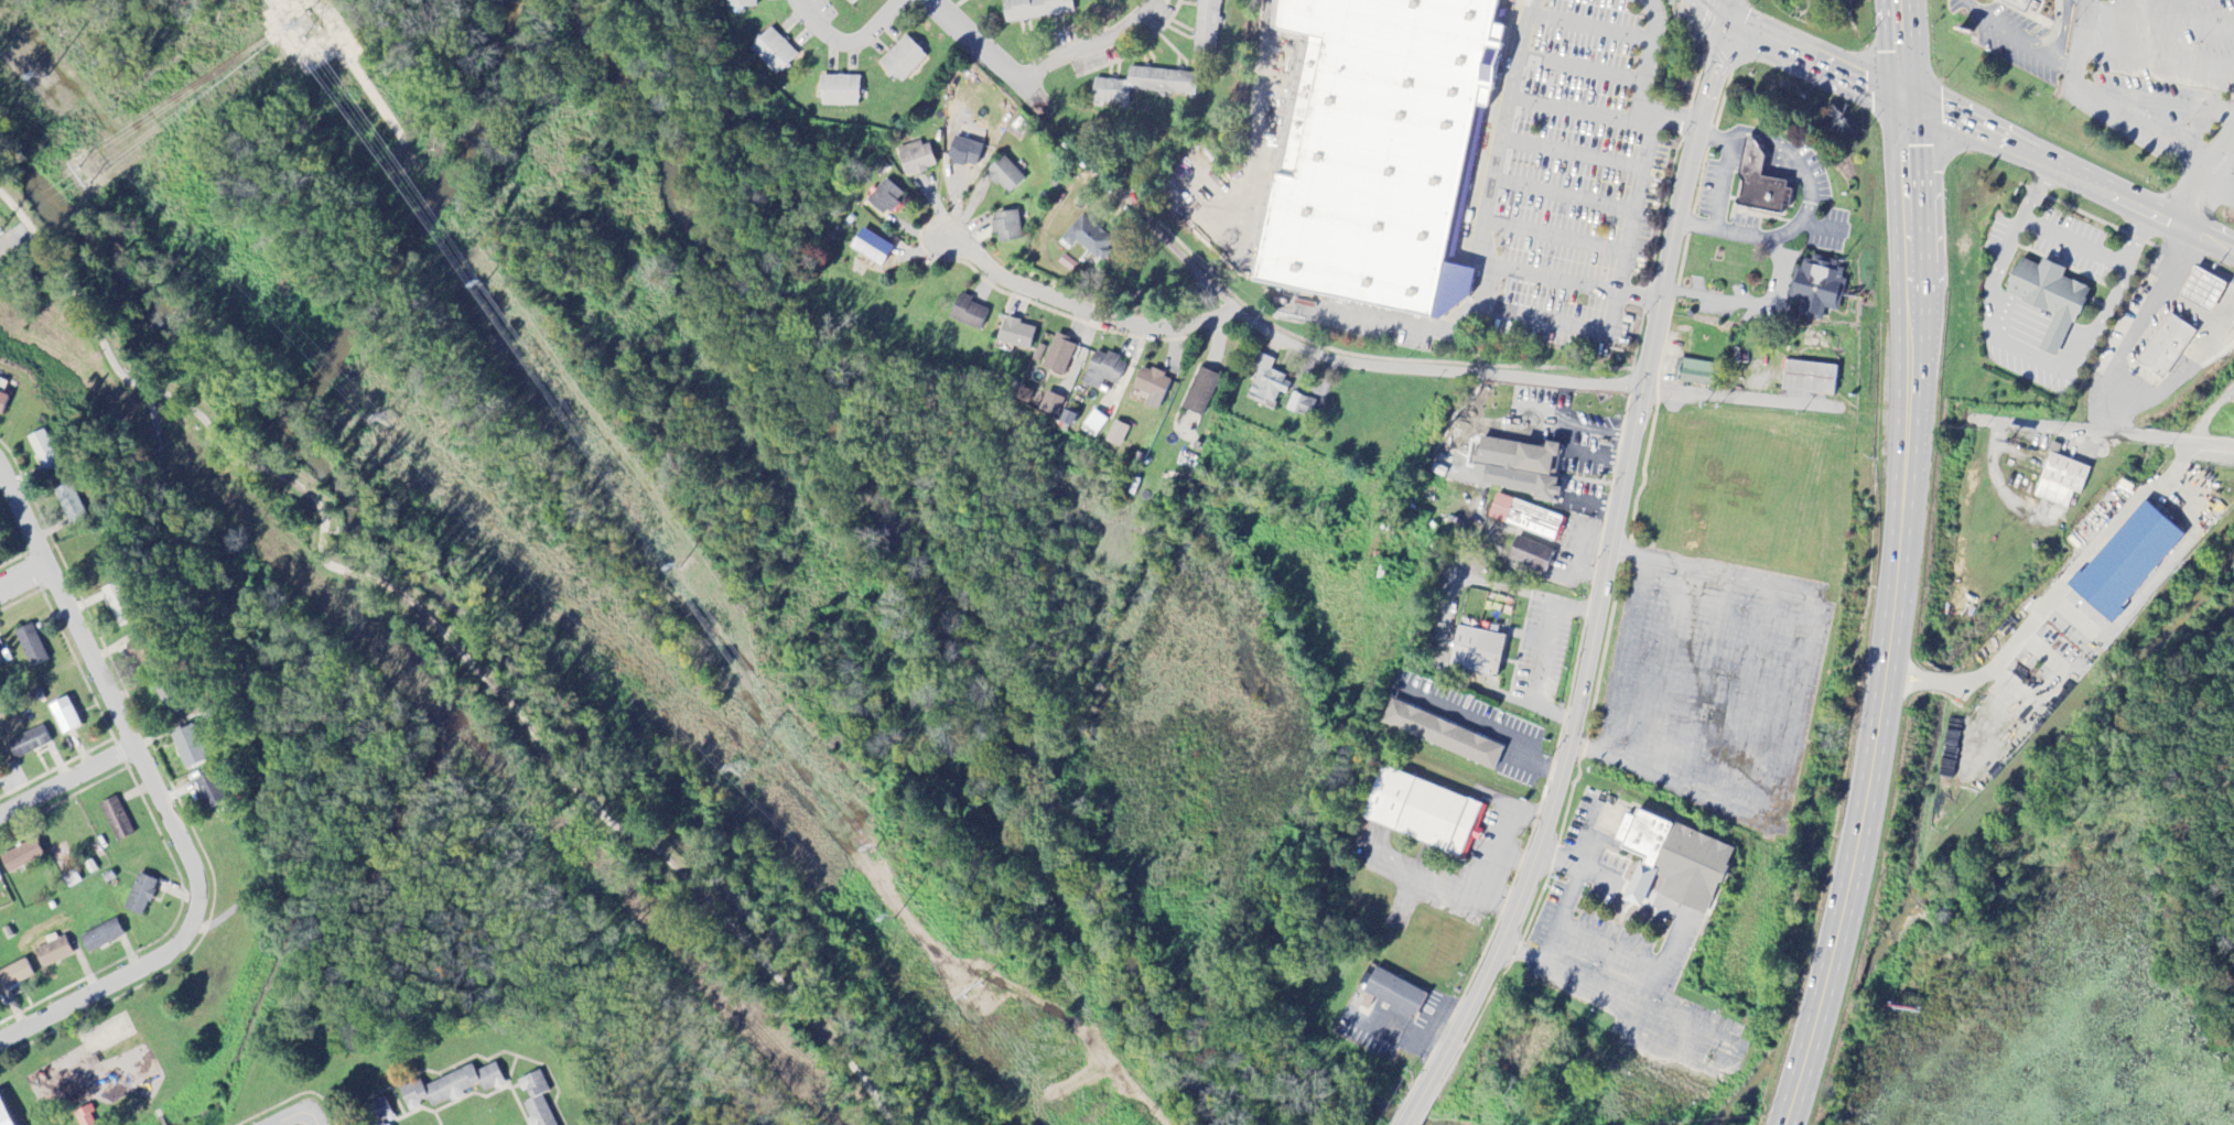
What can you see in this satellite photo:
building: (850, 2)
building: (740, 3)
building: (2015, 4)
building: (1034, 9)
road: (1728, 9)
traffic signals: (1725, 19)
road: (2063, 20)
building: (1206, 26)
road: (1586, 26)
road: (2005, 32)
road: (973, 39)
road: (850, 42)
road: (2055, 45)
road: (1091, 47)
road: (1902, 51)
building: (773, 52)
parking lot: (2111, 52)
road: (1802, 54)
building: (902, 60)
road: (2063, 60)
road: (1578, 67)
power tower: (44, 76)
road: (1640, 83)
building: (1143, 86)
building: (838, 91)
road: (900, 93)
traffic signals: (1907, 102)
road: (2158, 106)
road: (1577, 110)
road: (2108, 110)
road: (1718, 136)
road: (1769, 141)
building: (1374, 150)
road: (1568, 150)
building: (963, 153)
building: (915, 159)
road: (2215, 172)
road: (2071, 174)
building: (1003, 176)
parking lot: (1572, 181)
road: (1717, 182)
building: (1759, 185)
road: (1560, 192)
building: (883, 198)
road: (1632, 204)
road: (2021, 213)
building: (1005, 227)
road: (1550, 234)
road: (1770, 236)
road: (2135, 237)
building: (1086, 239)
road: (2072, 241)
building: (871, 248)
road: (1483, 253)
road: (2204, 268)
road: (1550, 279)
building: (1816, 290)
building: (2201, 291)
building: (2047, 300)
road: (1747, 303)
road: (2184, 306)
road: (2139, 312)
building: (967, 313)
road: (1069, 314)
road: (1393, 322)
building: (1015, 334)
building: (2165, 348)
building: (1058, 356)
road: (2186, 363)
road: (1350, 364)
road: (2048, 364)
building: (1102, 371)
building: (1698, 374)
building: (1809, 379)
building: (1266, 382)
building: (1151, 388)
building: (1199, 392)
road: (170, 398)
road: (1735, 399)
building: (1, 401)
building: (1050, 405)
building: (1301, 407)
road: (2211, 411)
power tower: (388, 420)
building: (1067, 420)
road: (2114, 420)
building: (1096, 423)
road: (2108, 434)
building: (1116, 435)
building: (43, 451)
road: (2174, 458)
building: (1519, 469)
building: (2060, 482)
building: (68, 504)
building: (1525, 519)
road: (2102, 533)
building: (1529, 556)
building: (2126, 563)
road: (354, 575)
road: (23, 576)
road: (2150, 583)
road: (1605, 585)
building: (116, 605)
road: (1895, 618)
building: (30, 646)
building: (1476, 653)
road: (1542, 658)
building: (0, 664)
road: (1981, 670)
road: (1770, 704)
building: (66, 720)
building: (1440, 736)
building: (29, 743)
building: (188, 747)
park: (419, 760)
power tower: (742, 768)
road: (66, 780)
building: (208, 791)
road: (158, 797)
building: (1422, 814)
building: (115, 820)
road: (636, 841)
building: (20, 857)
building: (1672, 863)
road: (1584, 870)
road: (1637, 893)
building: (138, 896)
road: (1560, 915)
building: (100, 937)
building: (52, 953)
building: (14, 975)
building: (1392, 995)
road: (1633, 1003)
road: (457, 1063)
building: (450, 1088)
building: (536, 1100)
building: (377, 1113)
building: (85, 1116)
building: (3, 1117)
road: (287, 1117)
road: (309, 1117)

